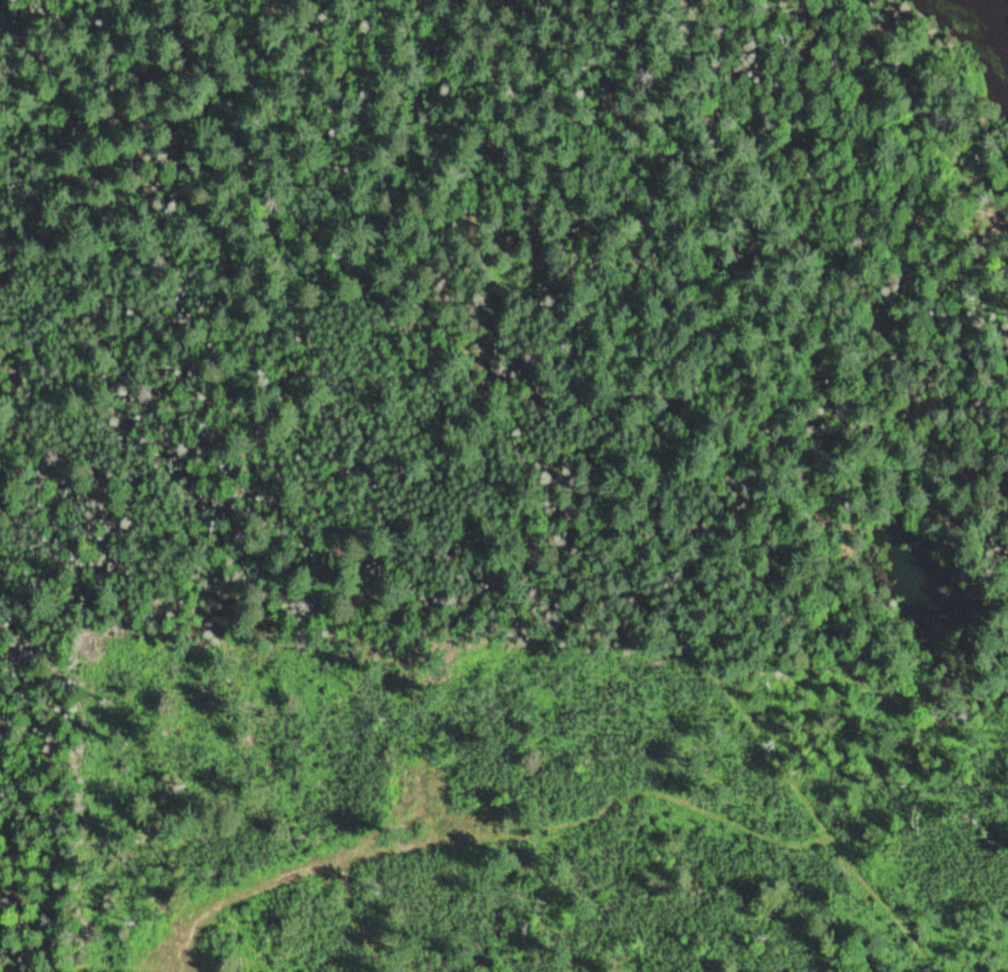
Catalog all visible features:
river: (991, 20)

